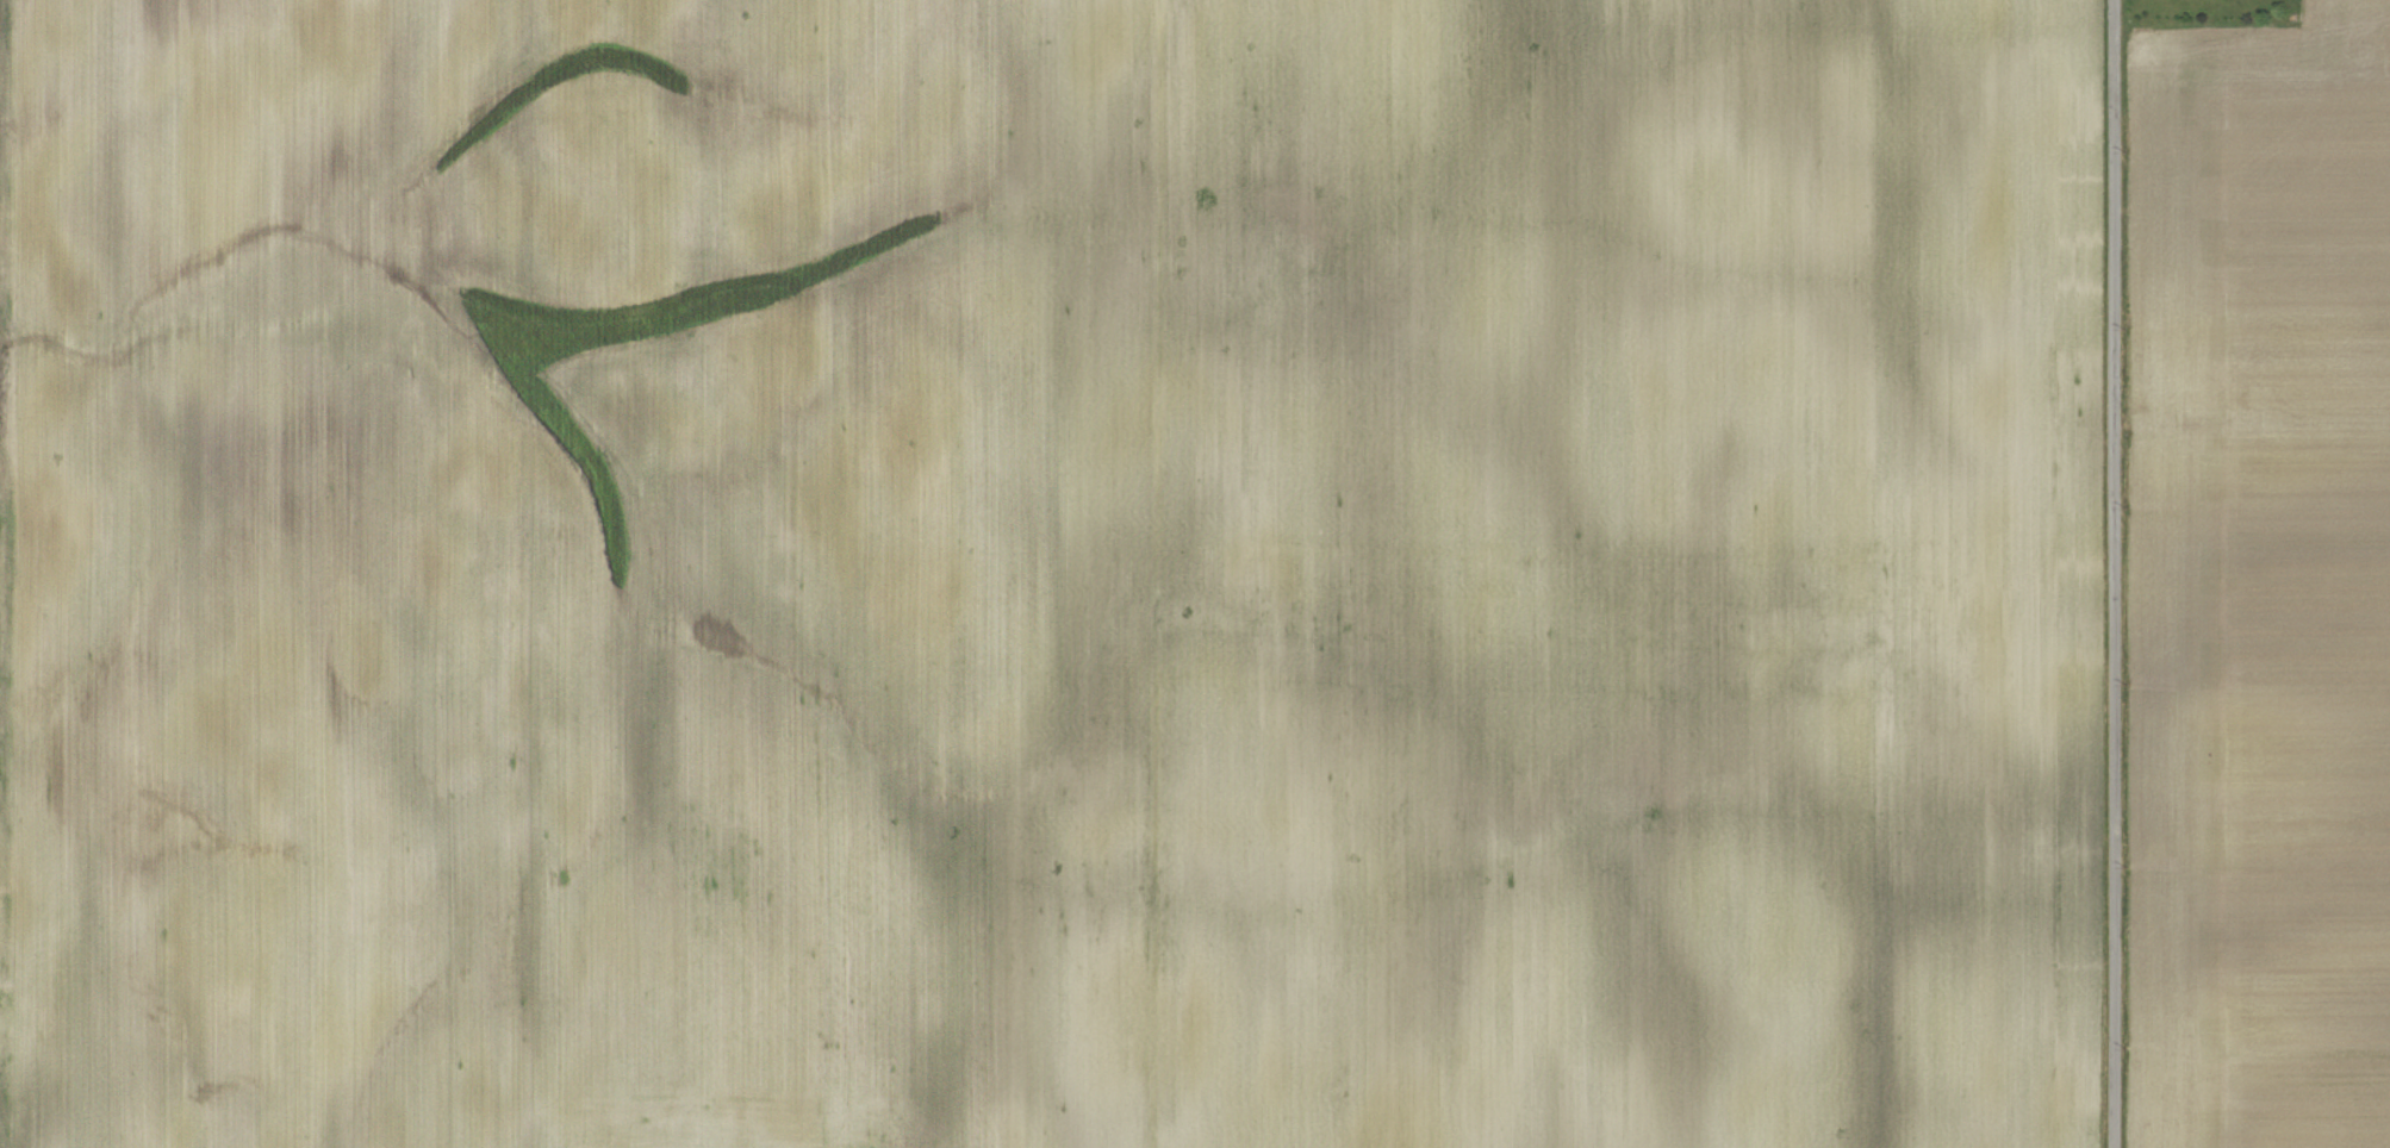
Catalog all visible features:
road: (2114, 573)

